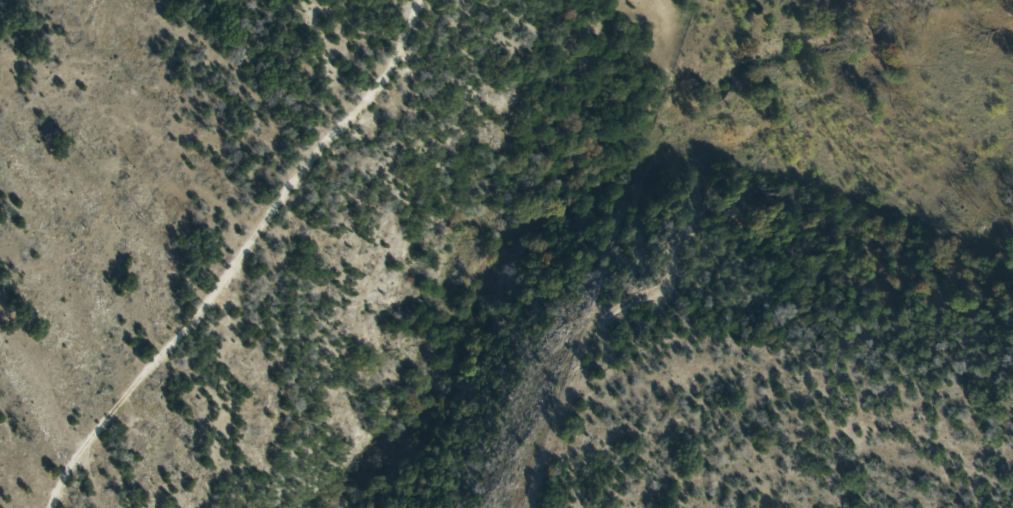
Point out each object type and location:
road: (274, 284)

